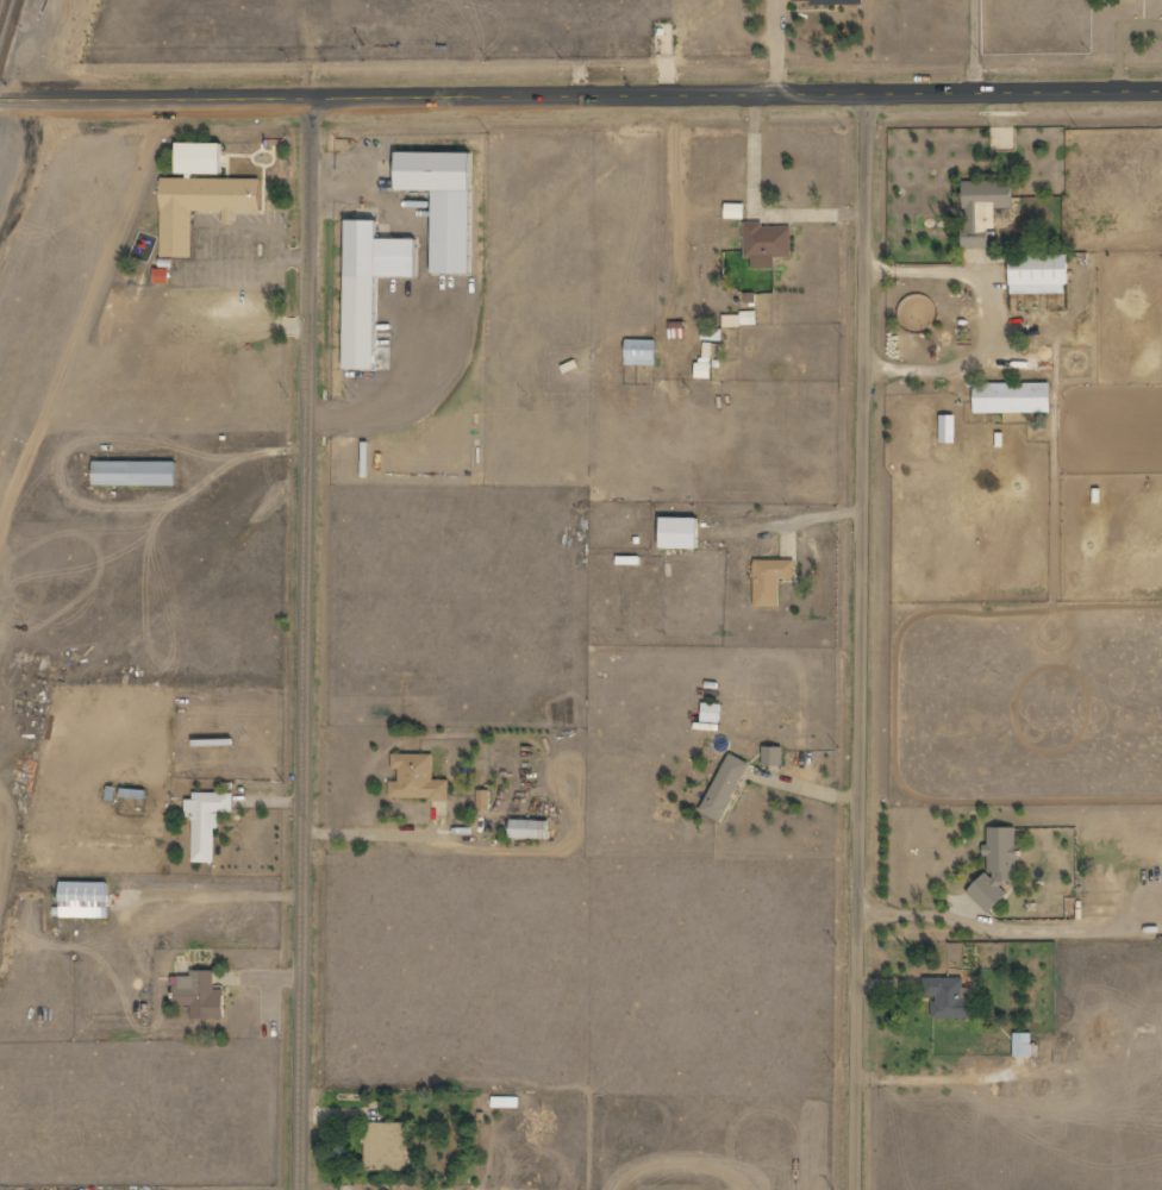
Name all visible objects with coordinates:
railway: (24, 1)
building: (835, 1)
railway: (5, 18)
railway: (12, 40)
road: (581, 95)
building: (193, 158)
building: (437, 201)
building: (193, 207)
building: (985, 208)
building: (736, 211)
building: (767, 244)
building: (370, 255)
airport runway: (61, 273)
building: (1039, 274)
building: (163, 276)
building: (741, 320)
building: (713, 334)
building: (642, 352)
building: (710, 352)
building: (705, 371)
airport: (30, 396)
building: (1013, 397)
building: (948, 430)
building: (127, 476)
building: (681, 533)
building: (771, 581)
road: (864, 639)
road: (305, 645)
building: (712, 713)
building: (774, 756)
building: (418, 778)
building: (726, 788)
building: (485, 800)
building: (207, 822)
building: (531, 829)
building: (999, 863)
building: (85, 900)
building: (201, 995)
building: (950, 998)
building: (1023, 1045)
building: (506, 1102)
building: (387, 1146)

